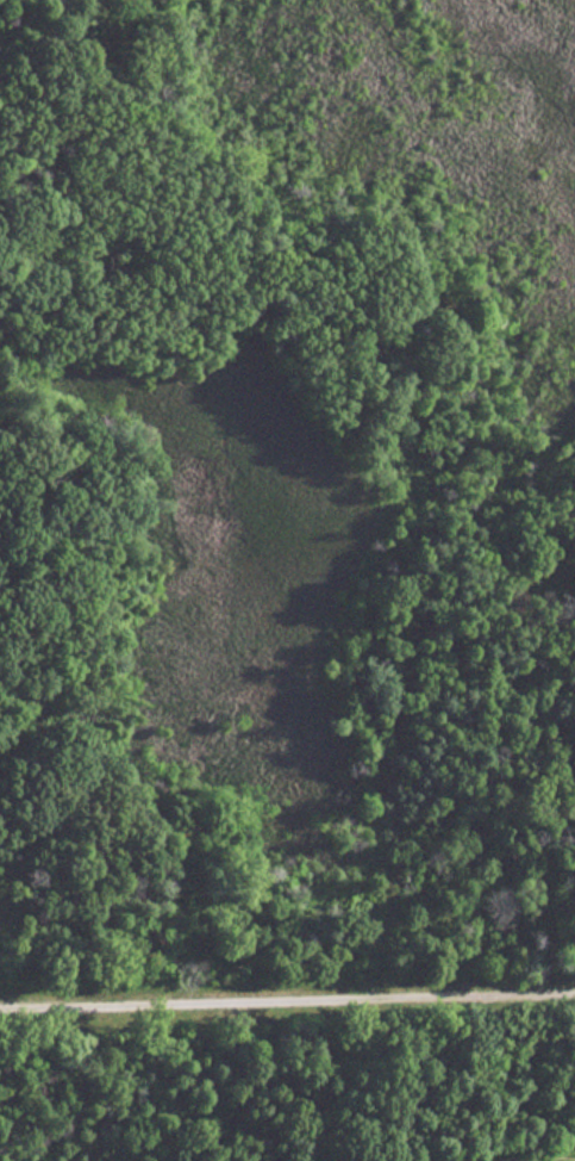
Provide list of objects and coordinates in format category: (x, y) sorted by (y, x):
park: (287, 580)
road: (287, 983)

